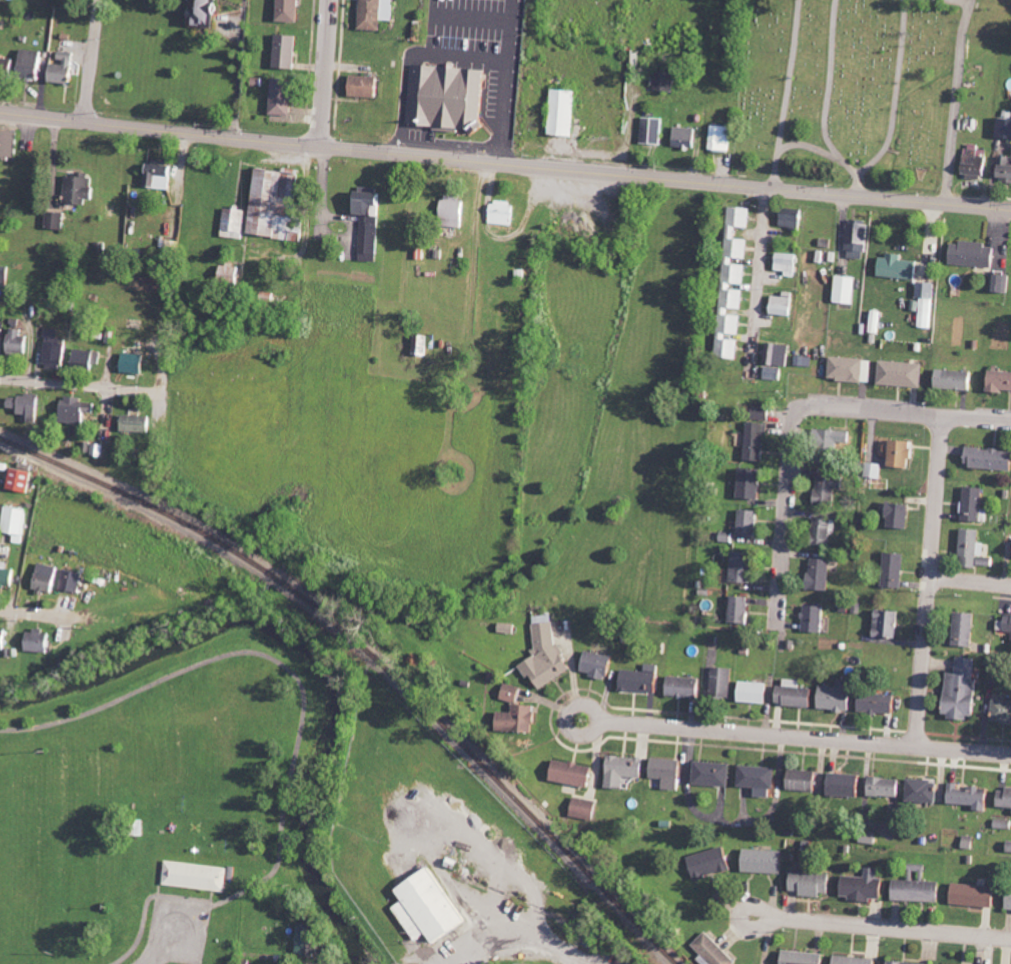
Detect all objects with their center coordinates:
building: (11, 0)
building: (285, 10)
building: (373, 13)
building: (198, 14)
building: (282, 52)
road: (93, 60)
building: (32, 63)
building: (6, 67)
building: (64, 68)
road: (324, 72)
building: (661, 82)
building: (361, 86)
building: (442, 97)
building: (277, 98)
building: (559, 112)
building: (1001, 128)
building: (651, 131)
building: (684, 137)
building: (718, 138)
building: (9, 144)
road: (505, 163)
building: (972, 163)
building: (1002, 170)
building: (161, 175)
building: (81, 190)
building: (263, 208)
building: (450, 212)
building: (501, 213)
building: (789, 218)
building: (57, 221)
building: (854, 240)
building: (969, 254)
building: (785, 264)
road: (761, 265)
building: (893, 267)
building: (731, 271)
building: (226, 273)
building: (4, 275)
building: (997, 283)
building: (842, 290)
building: (924, 303)
building: (780, 304)
building: (874, 322)
building: (19, 342)
building: (418, 345)
building: (723, 348)
building: (56, 350)
building: (775, 355)
building: (87, 359)
building: (801, 361)
building: (135, 363)
building: (847, 369)
building: (769, 373)
building: (897, 374)
building: (950, 380)
building: (996, 381)
road: (76, 383)
building: (28, 406)
building: (78, 410)
road: (907, 410)
building: (137, 424)
building: (752, 441)
building: (895, 454)
building: (984, 458)
building: (870, 471)
building: (23, 480)
building: (745, 484)
building: (822, 490)
building: (969, 504)
road: (787, 511)
building: (893, 515)
building: (745, 523)
building: (19, 524)
building: (820, 531)
building: (966, 548)
building: (1010, 553)
building: (738, 567)
building: (890, 570)
building: (7, 574)
building: (815, 574)
building: (48, 578)
road: (971, 578)
road: (931, 580)
building: (72, 581)
building: (735, 610)
road: (32, 612)
building: (810, 619)
building: (882, 624)
building: (1005, 624)
building: (506, 628)
building: (960, 630)
building: (4, 639)
building: (40, 642)
railway: (371, 655)
building: (543, 656)
building: (592, 665)
building: (636, 680)
building: (718, 682)
building: (679, 687)
building: (957, 690)
building: (508, 691)
building: (749, 692)
building: (790, 694)
building: (830, 696)
road: (546, 703)
building: (872, 703)
building: (1000, 711)
road: (568, 718)
building: (512, 720)
road: (803, 739)
building: (619, 770)
building: (662, 772)
building: (567, 773)
building: (708, 774)
building: (754, 780)
building: (799, 780)
building: (880, 787)
building: (918, 791)
building: (964, 797)
building: (1002, 797)
building: (580, 808)
building: (1001, 824)
building: (865, 837)
building: (1007, 847)
building: (705, 862)
building: (757, 862)
building: (198, 875)
building: (805, 883)
building: (860, 886)
building: (912, 887)
building: (968, 895)
building: (1006, 901)
building: (431, 907)
road: (736, 915)
road: (896, 928)
building: (309, 940)
road: (163, 941)
road: (765, 943)
building: (710, 951)
road: (427, 955)
building: (797, 958)
building: (849, 960)
building: (901, 963)

